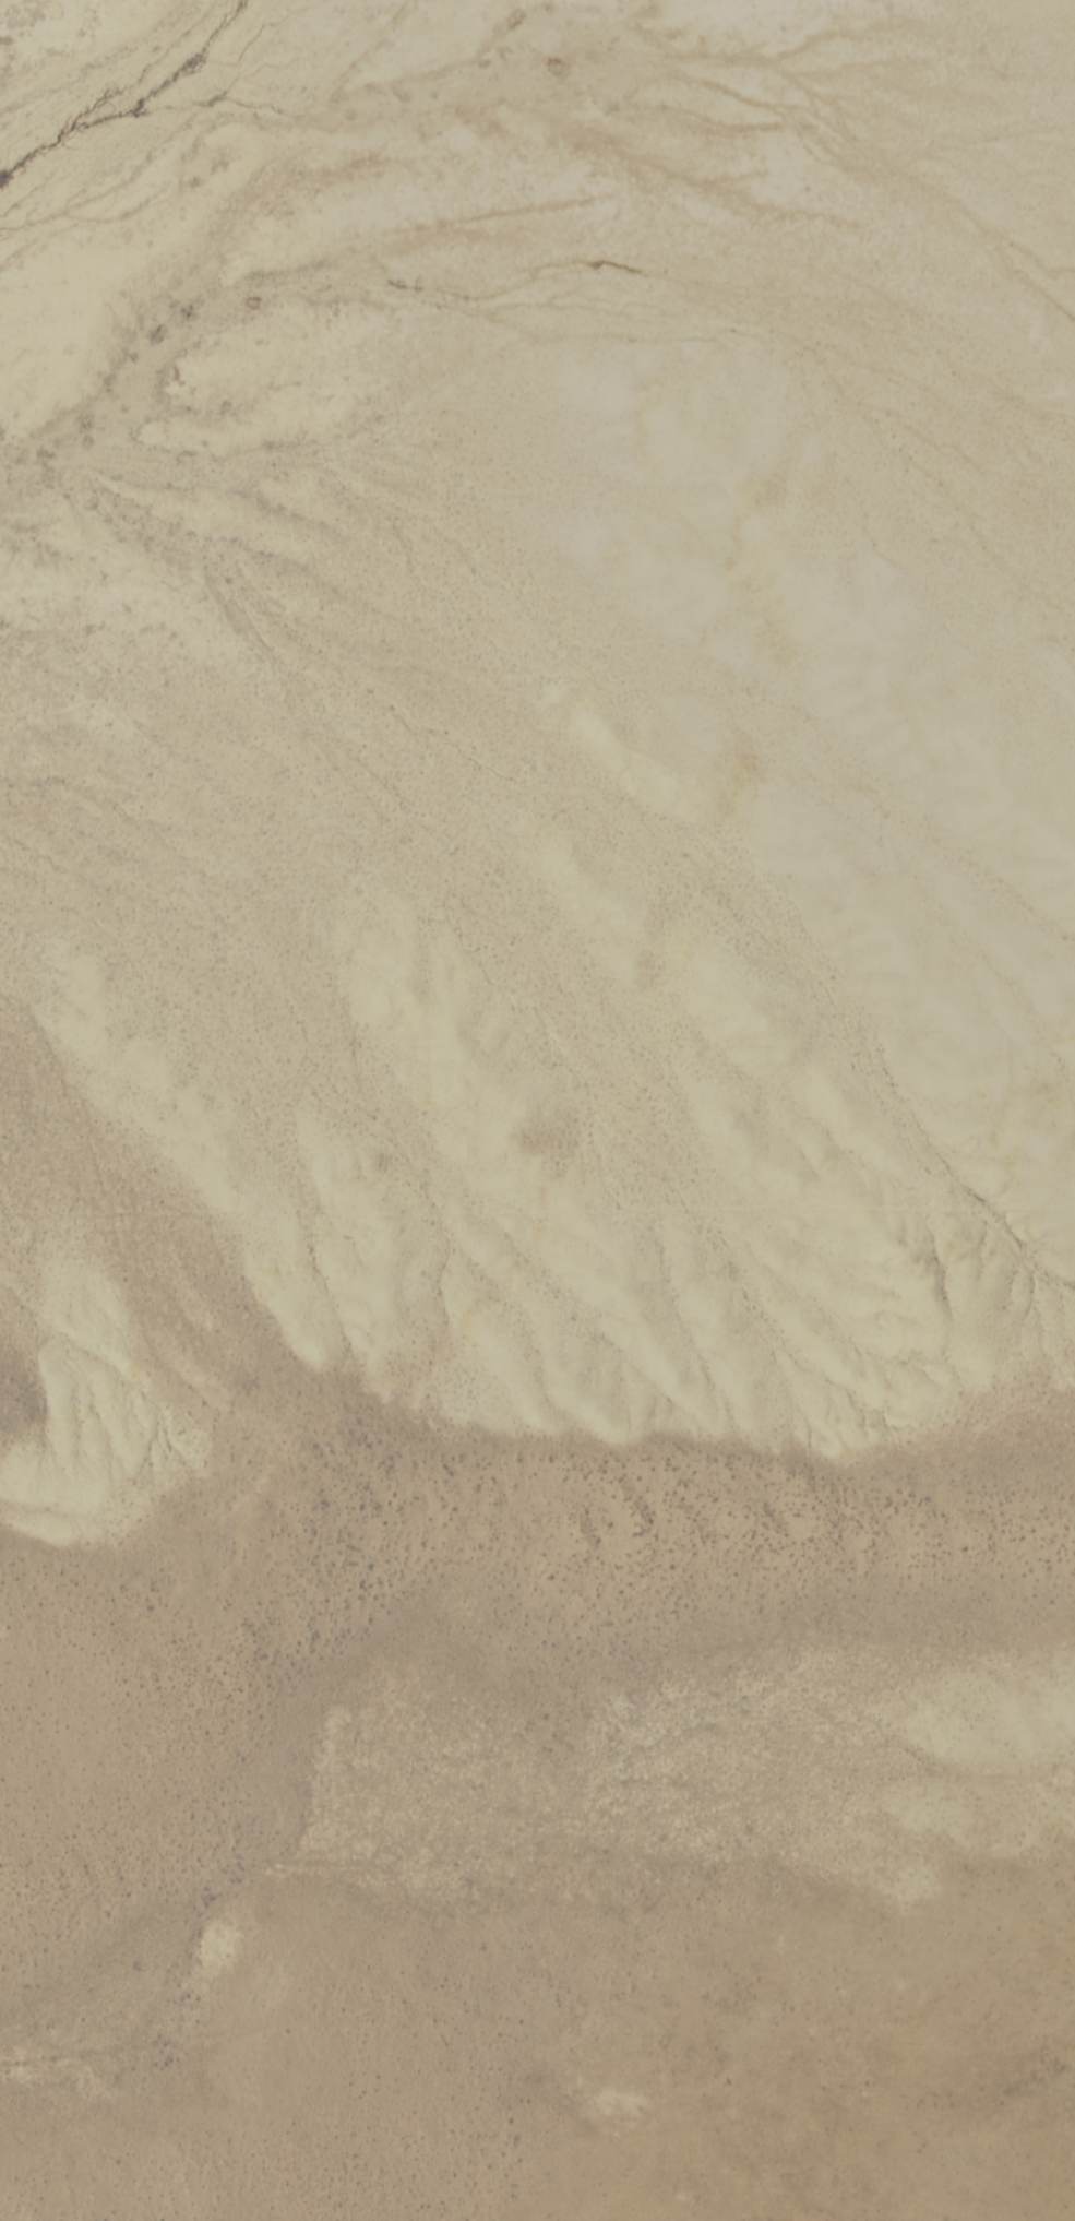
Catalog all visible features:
road: (1058, 2189)

